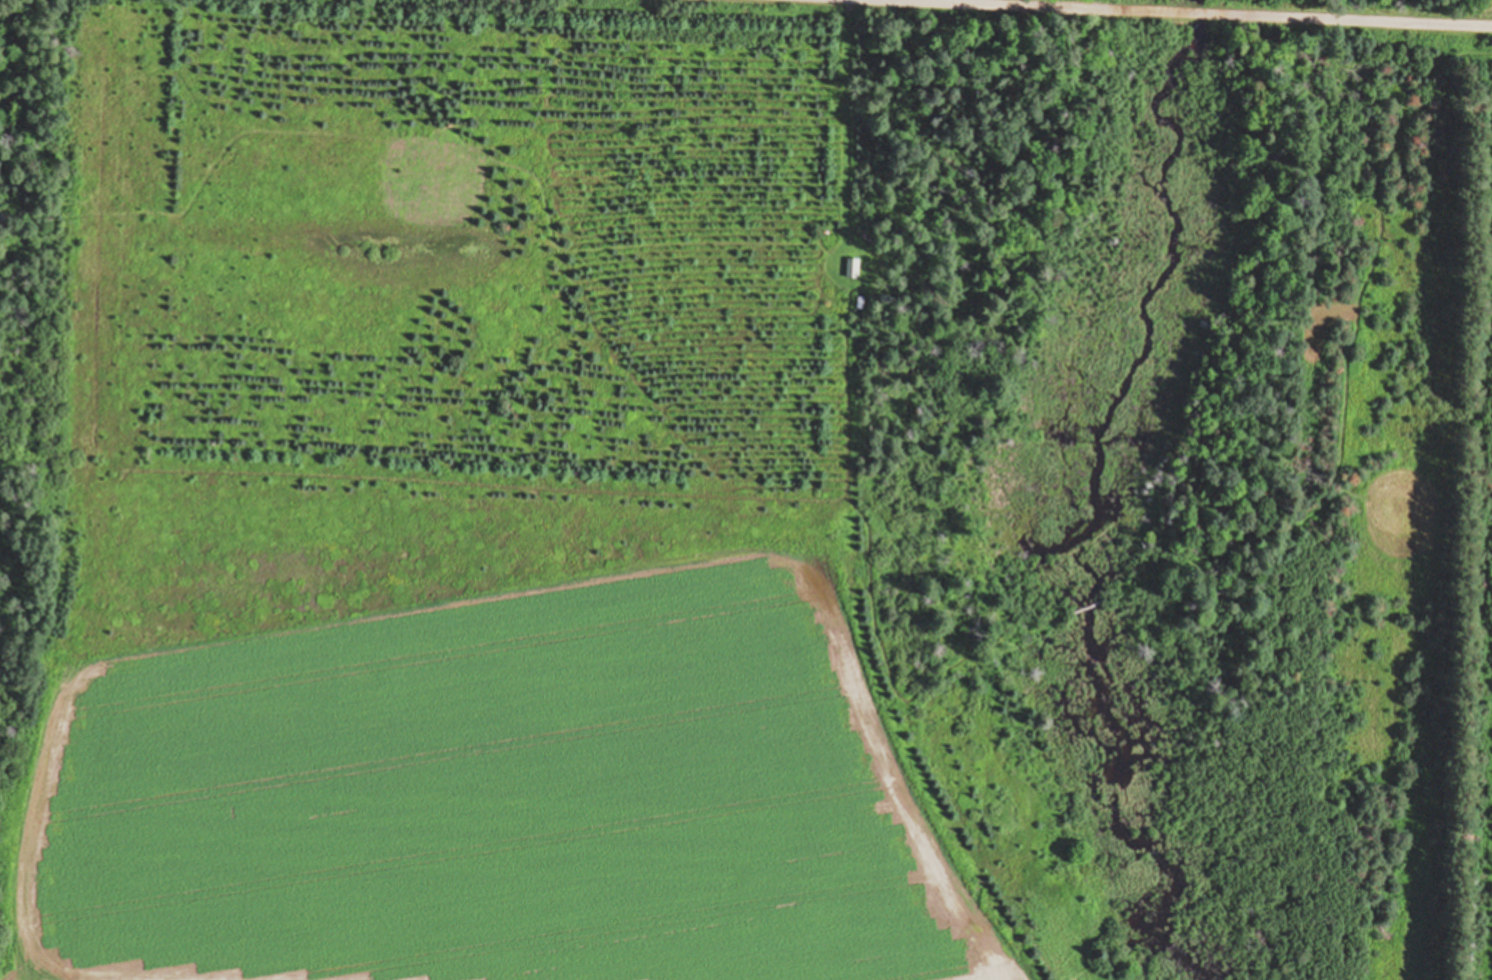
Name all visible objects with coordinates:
road: (1236, 12)
building: (852, 267)

